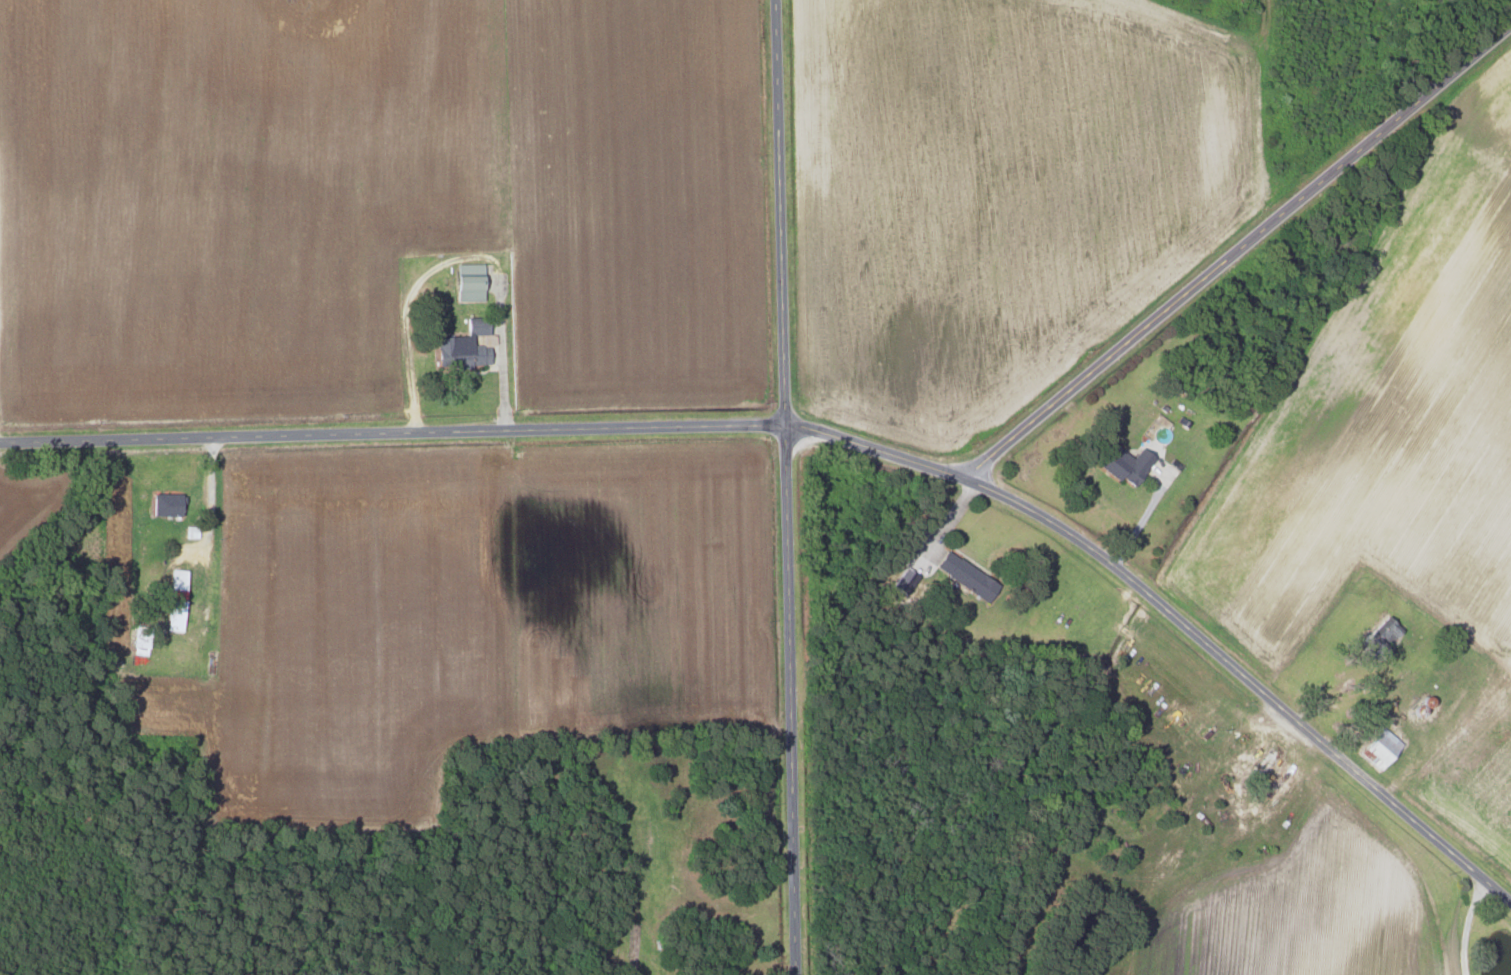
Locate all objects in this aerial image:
road: (777, 214)
road: (1237, 248)
building: (467, 283)
building: (461, 346)
road: (392, 436)
road: (876, 452)
building: (1120, 463)
building: (164, 503)
building: (963, 575)
building: (174, 579)
building: (171, 614)
road: (1246, 680)
road: (787, 701)
building: (1379, 747)

